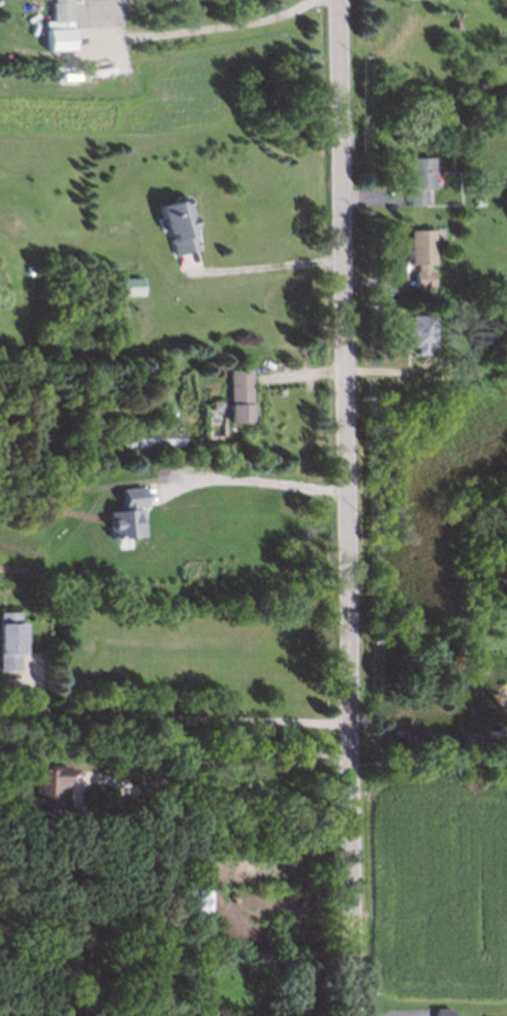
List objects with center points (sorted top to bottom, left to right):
building: (56, 8)
road: (193, 25)
building: (58, 40)
building: (415, 177)
building: (474, 201)
building: (174, 224)
building: (416, 254)
road: (261, 265)
building: (128, 283)
building: (416, 331)
building: (233, 393)
building: (212, 403)
road: (255, 480)
road: (339, 508)
building: (127, 515)
building: (8, 637)
road: (170, 718)
road: (423, 737)
road: (159, 777)
building: (41, 796)
building: (197, 904)
road: (170, 941)
building: (439, 1011)

